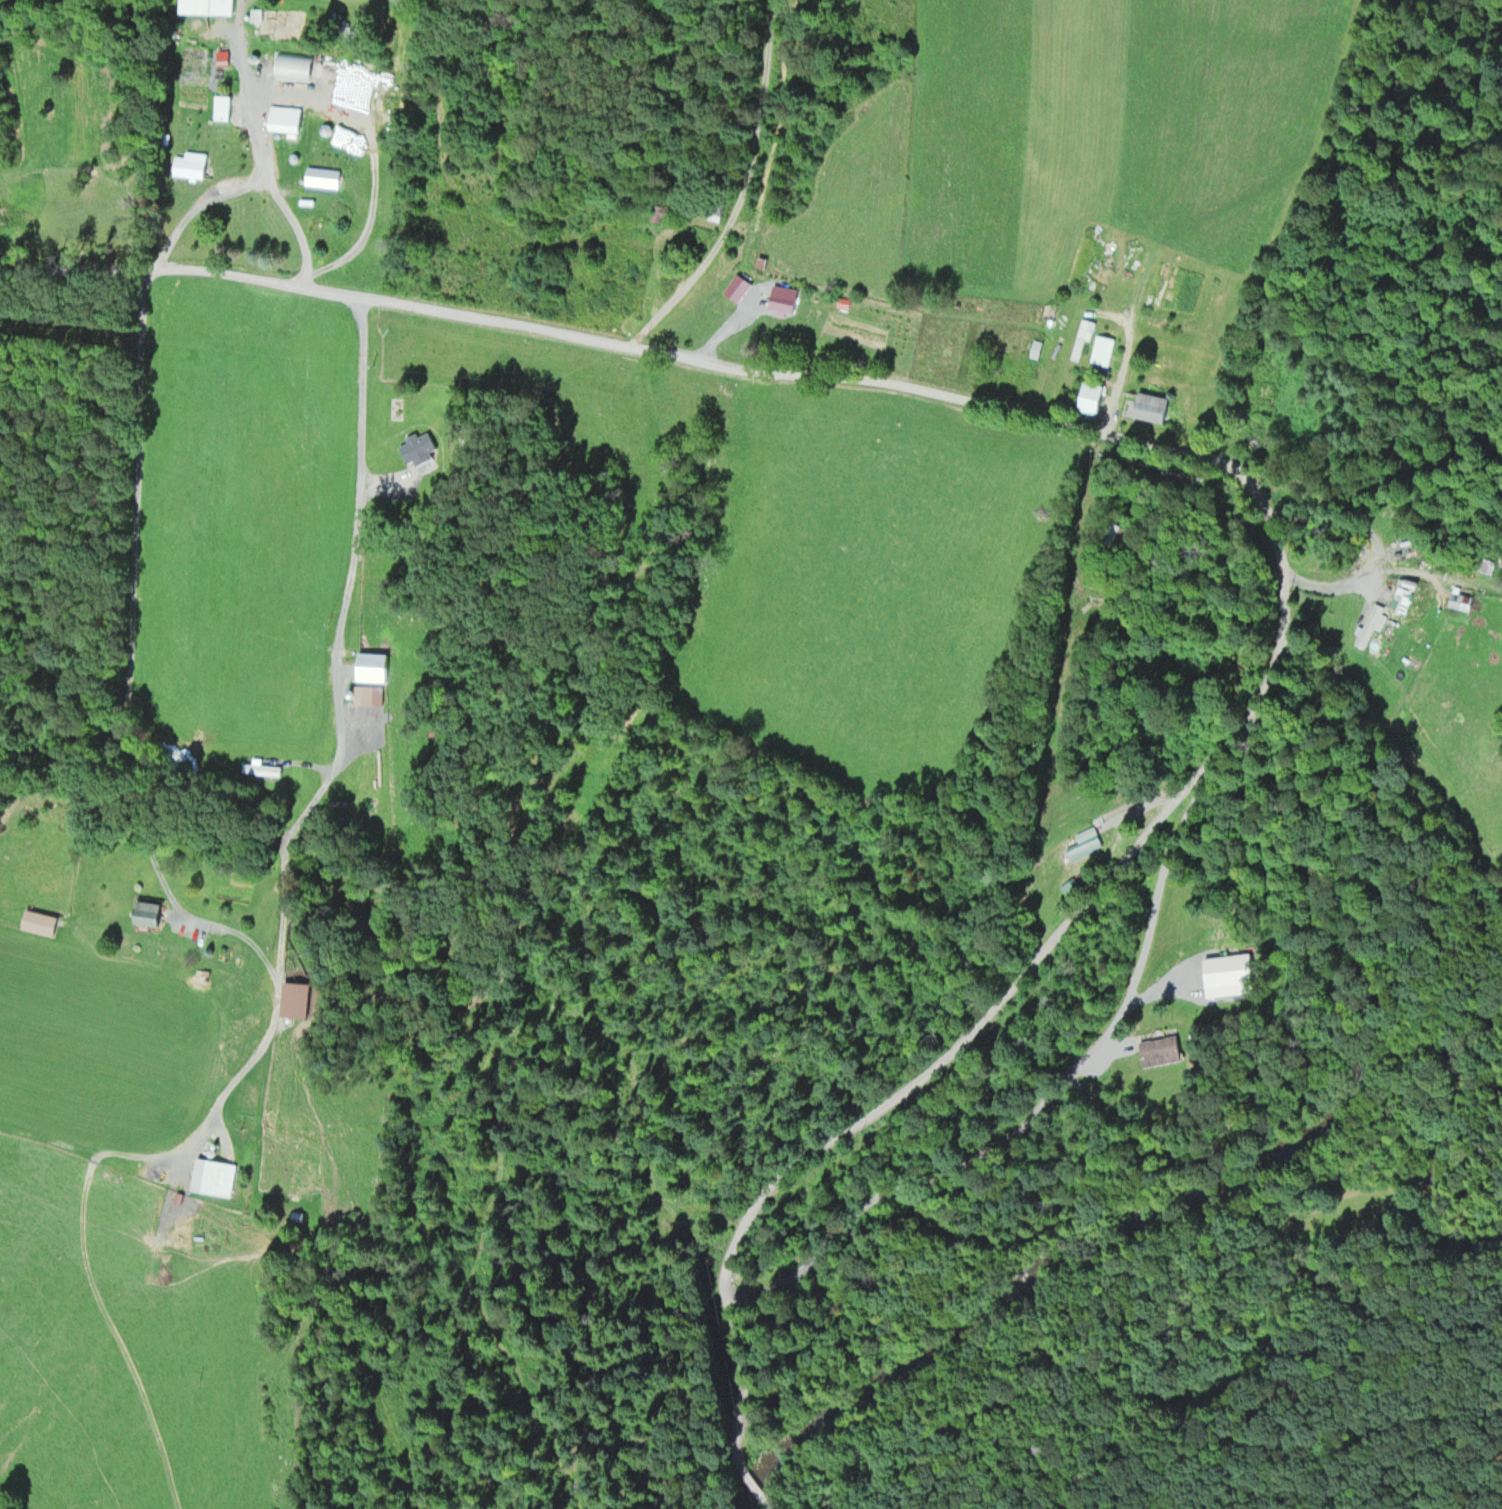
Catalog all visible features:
building: (209, 6)
building: (222, 107)
building: (288, 120)
building: (192, 165)
building: (326, 177)
building: (662, 213)
building: (784, 299)
building: (1081, 339)
building: (1106, 348)
road: (771, 371)
building: (1095, 397)
building: (1154, 407)
building: (1390, 576)
building: (1464, 601)
building: (1377, 624)
building: (378, 667)
building: (261, 767)
building: (1088, 844)
building: (151, 913)
building: (40, 923)
building: (294, 994)
road: (980, 1023)
building: (1163, 1050)
building: (216, 1178)
river: (1157, 1204)

